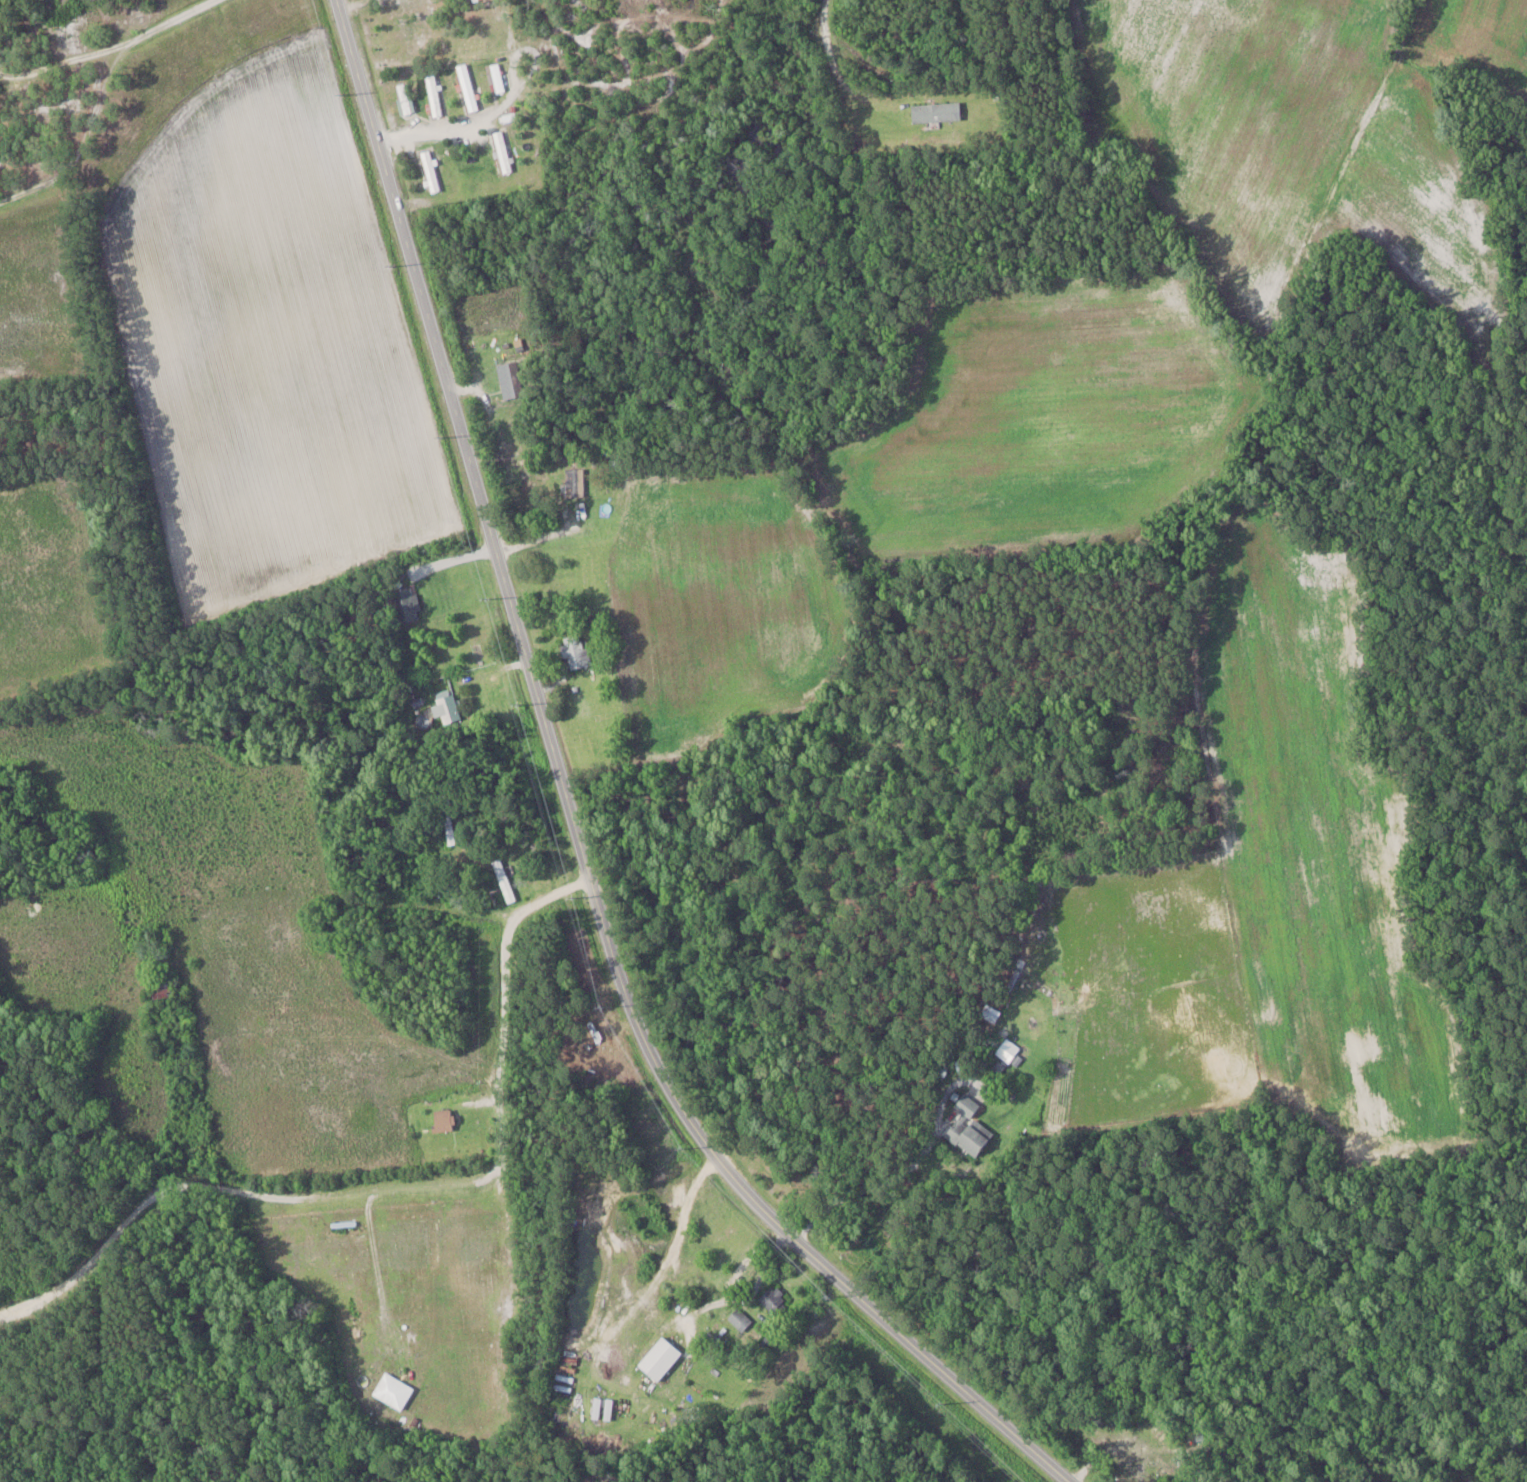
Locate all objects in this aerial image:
road: (353, 6)
road: (1293, 26)
road: (140, 56)
building: (496, 78)
building: (466, 87)
building: (434, 95)
building: (404, 98)
building: (936, 111)
building: (502, 151)
building: (428, 170)
building: (513, 378)
building: (575, 481)
building: (406, 604)
building: (575, 651)
building: (448, 709)
road: (572, 817)
building: (504, 880)
building: (162, 990)
building: (968, 1135)
road: (903, 1177)
road: (402, 1187)
building: (774, 1300)
building: (660, 1359)

